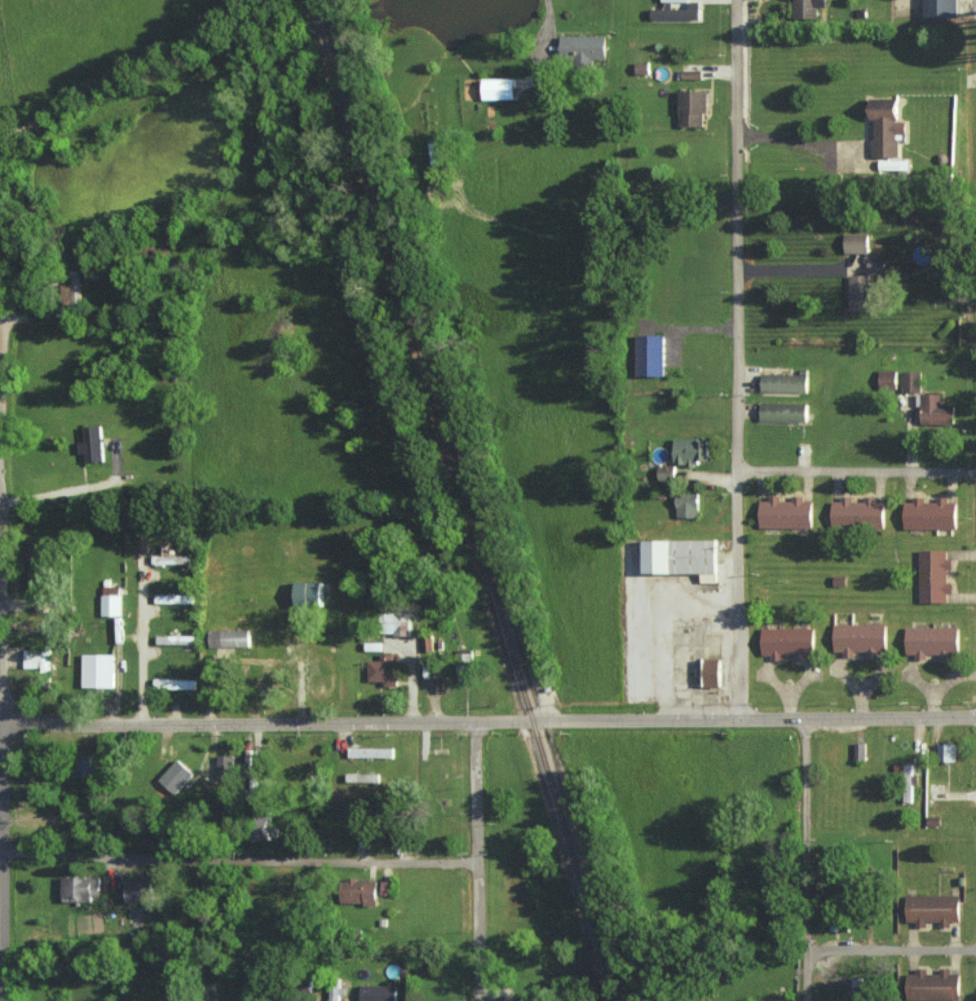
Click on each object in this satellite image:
building: (675, 1)
building: (808, 8)
building: (941, 8)
building: (675, 14)
road: (549, 18)
building: (583, 48)
building: (642, 68)
building: (691, 74)
building: (498, 88)
building: (692, 107)
building: (887, 127)
building: (893, 164)
building: (856, 243)
building: (72, 286)
building: (867, 287)
road: (3, 312)
building: (650, 355)
road: (739, 360)
building: (887, 378)
building: (911, 381)
building: (784, 382)
road: (7, 386)
building: (936, 411)
building: (783, 412)
building: (92, 444)
building: (691, 451)
road: (4, 459)
building: (666, 472)
road: (858, 472)
railway: (470, 500)
building: (687, 505)
building: (786, 513)
building: (858, 513)
building: (930, 514)
building: (681, 557)
building: (171, 559)
building: (934, 576)
building: (308, 593)
building: (174, 598)
building: (111, 600)
building: (394, 623)
building: (229, 638)
building: (860, 638)
building: (175, 639)
building: (787, 642)
building: (933, 642)
building: (427, 643)
building: (373, 645)
road: (143, 646)
building: (302, 646)
building: (465, 654)
building: (37, 659)
building: (384, 669)
building: (98, 670)
building: (712, 673)
building: (319, 676)
building: (174, 683)
building: (301, 688)
road: (488, 722)
road: (12, 730)
building: (859, 750)
building: (947, 751)
building: (371, 752)
building: (225, 765)
building: (85, 767)
building: (176, 776)
building: (362, 777)
building: (908, 782)
building: (261, 825)
road: (250, 856)
road: (806, 859)
road: (502, 861)
building: (80, 887)
building: (385, 887)
building: (135, 890)
building: (359, 891)
building: (933, 908)
road: (892, 948)
building: (933, 985)
building: (858, 989)
building: (335, 993)
building: (377, 993)

